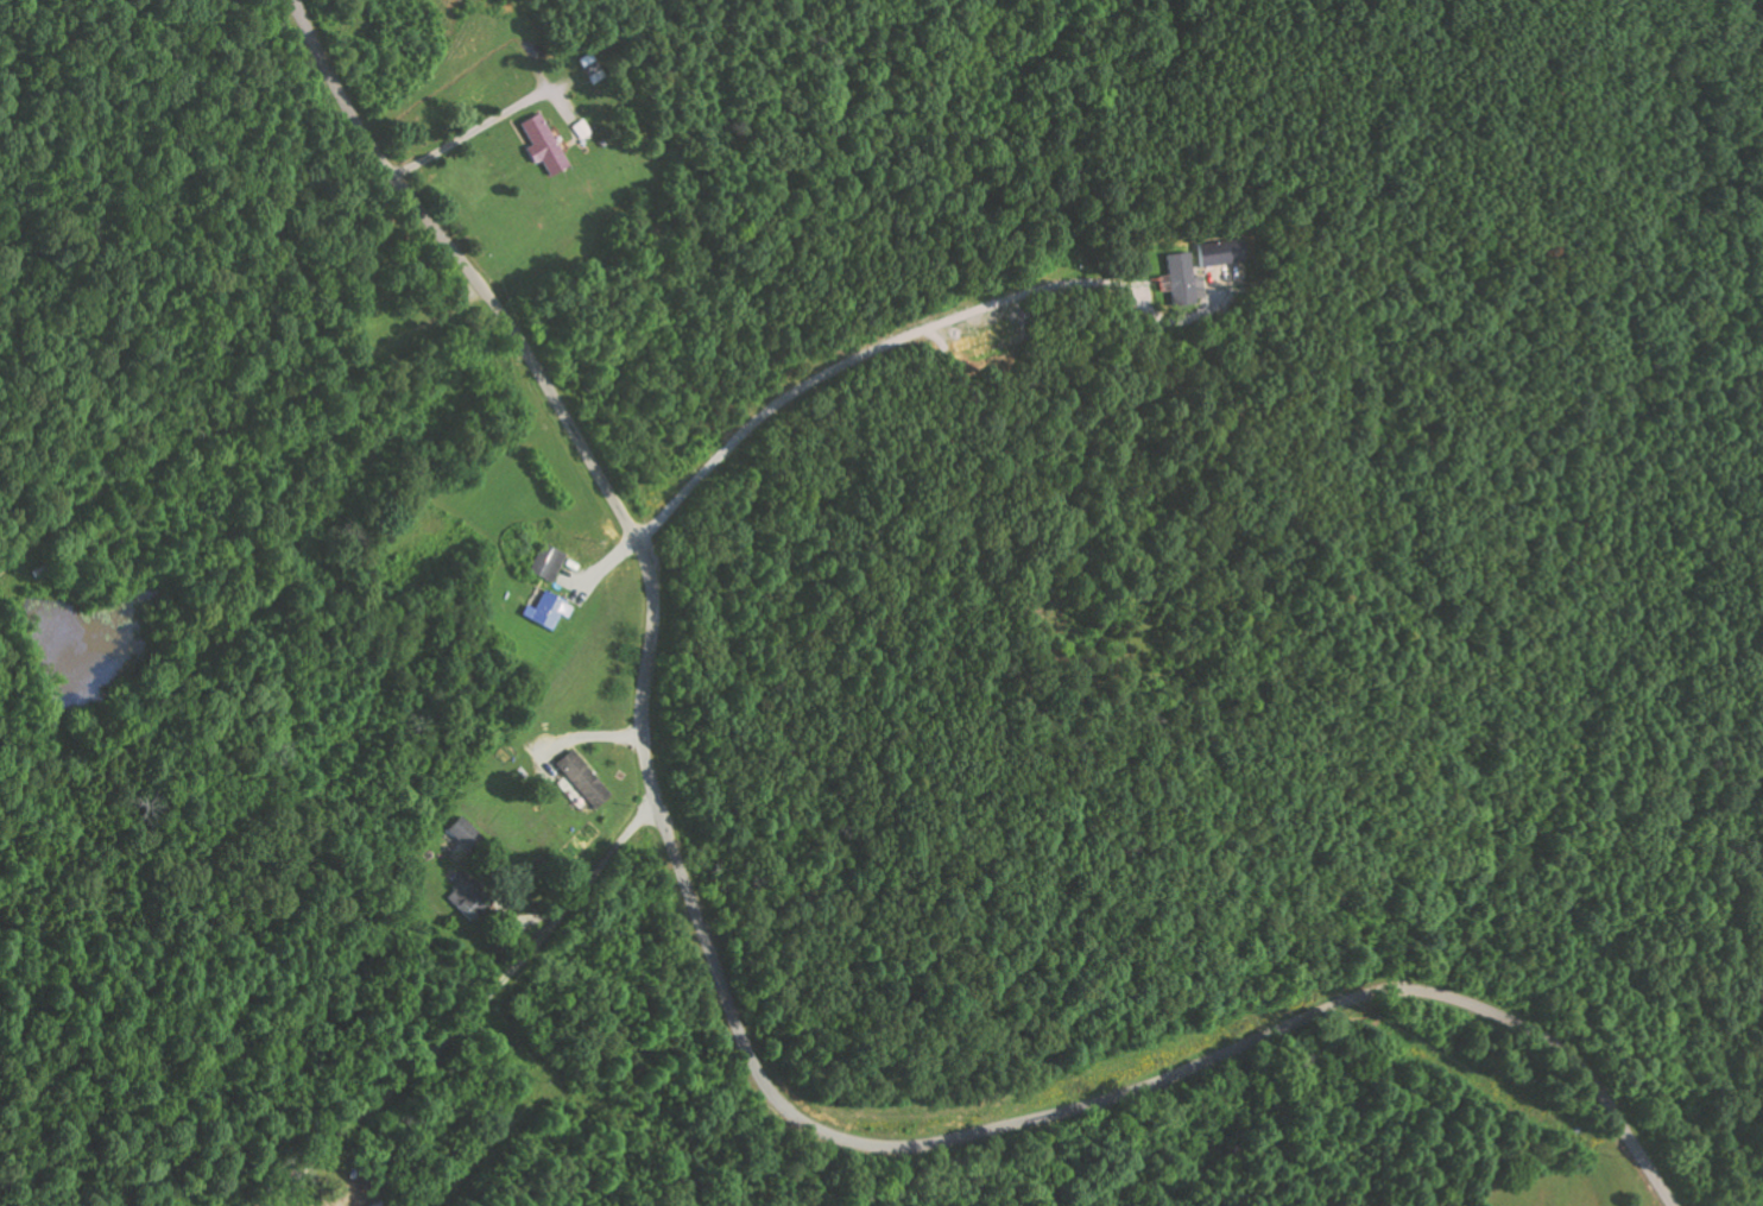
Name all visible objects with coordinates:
building: (538, 144)
building: (1219, 253)
building: (1181, 279)
road: (239, 404)
building: (546, 562)
building: (544, 611)
building: (581, 778)
building: (463, 833)
road: (480, 996)
road: (731, 1010)
road: (310, 1188)

